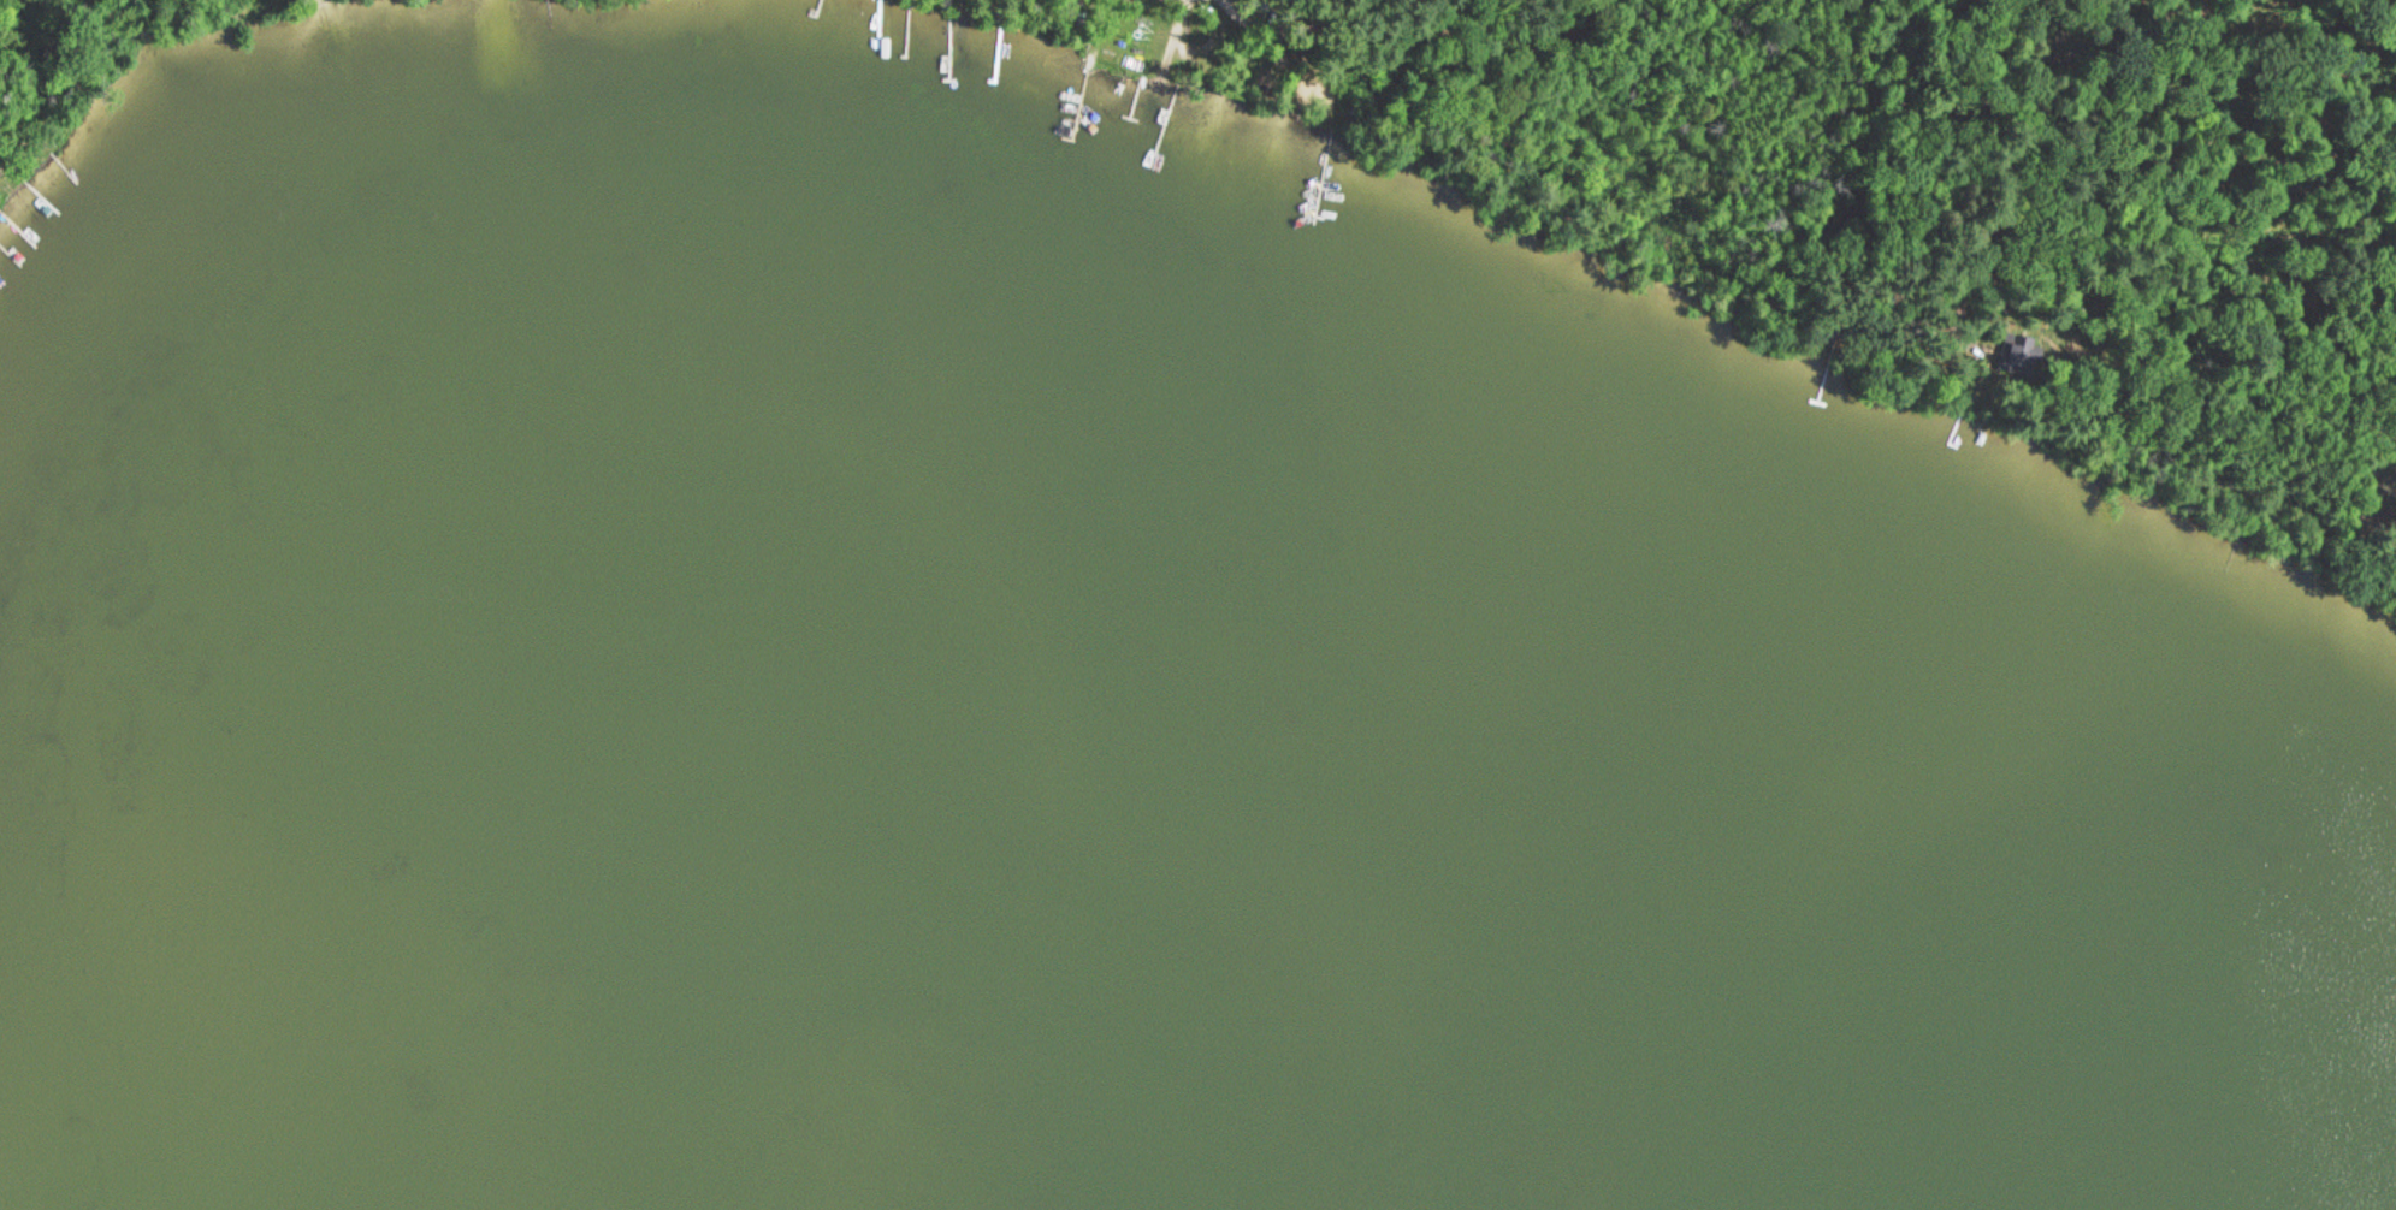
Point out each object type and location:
road: (1114, 32)
road: (1234, 36)

